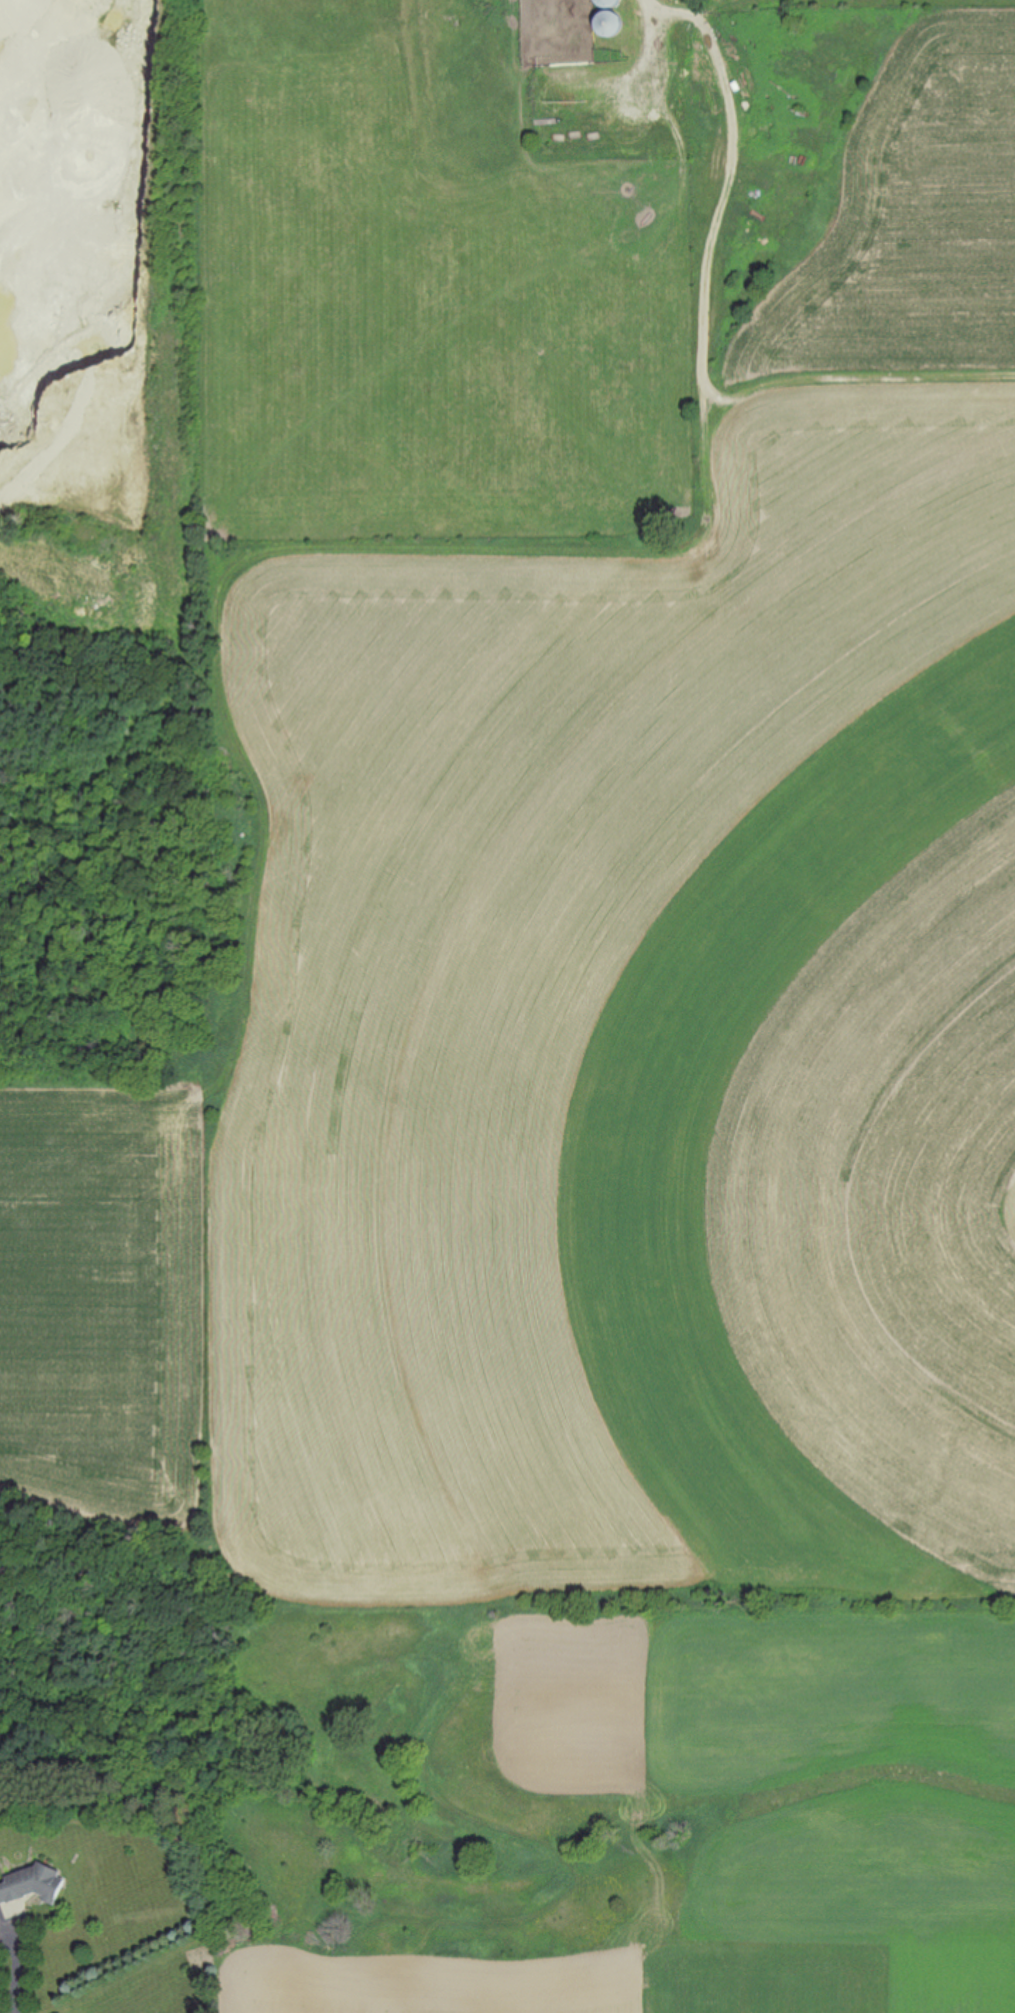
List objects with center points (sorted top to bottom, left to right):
building: (608, 3)
building: (608, 25)
road: (652, 48)
quarry: (104, 448)
crop: (579, 1062)
building: (28, 1889)
road: (17, 1969)

